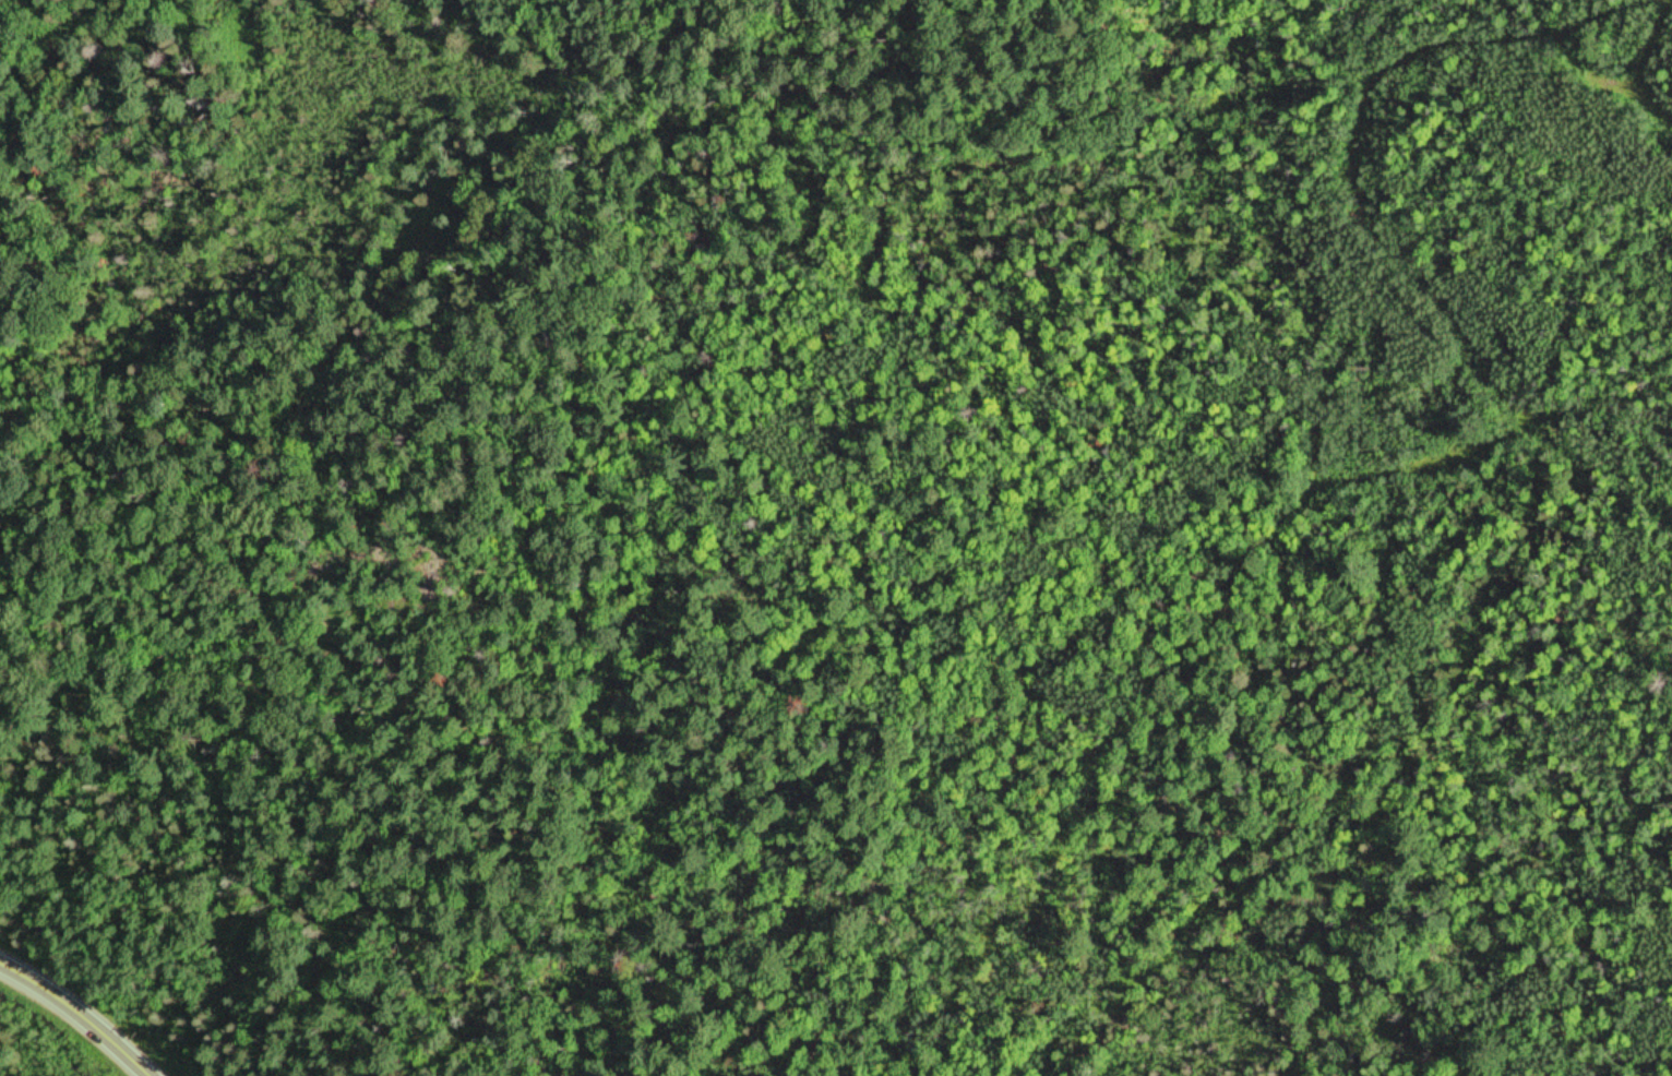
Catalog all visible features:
road: (76, 1017)

